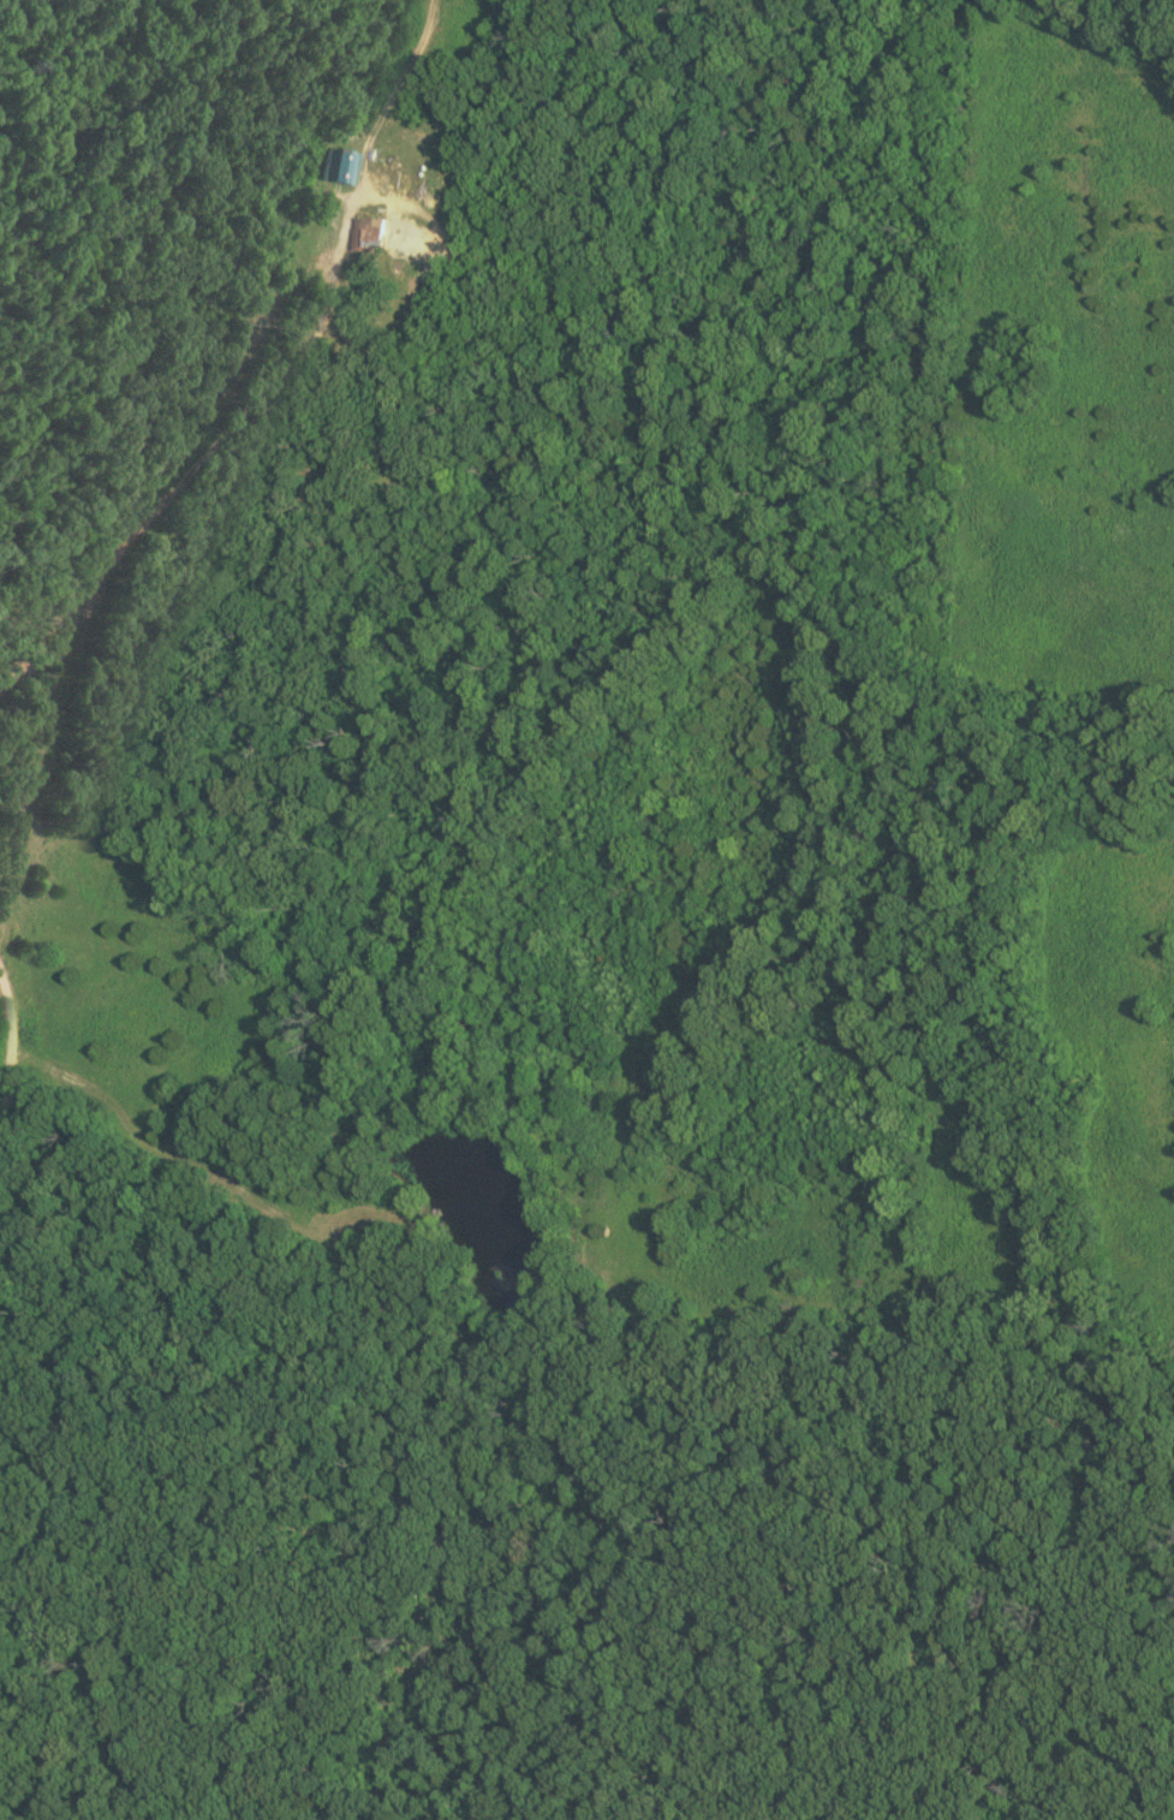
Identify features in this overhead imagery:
building: (338, 155)
building: (369, 233)
road: (10, 1061)

